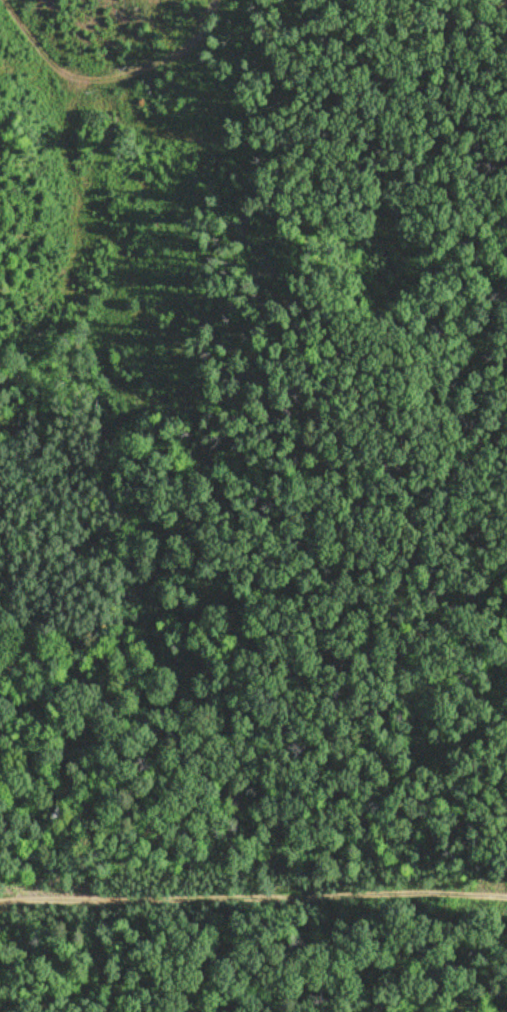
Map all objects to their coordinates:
road: (253, 897)

